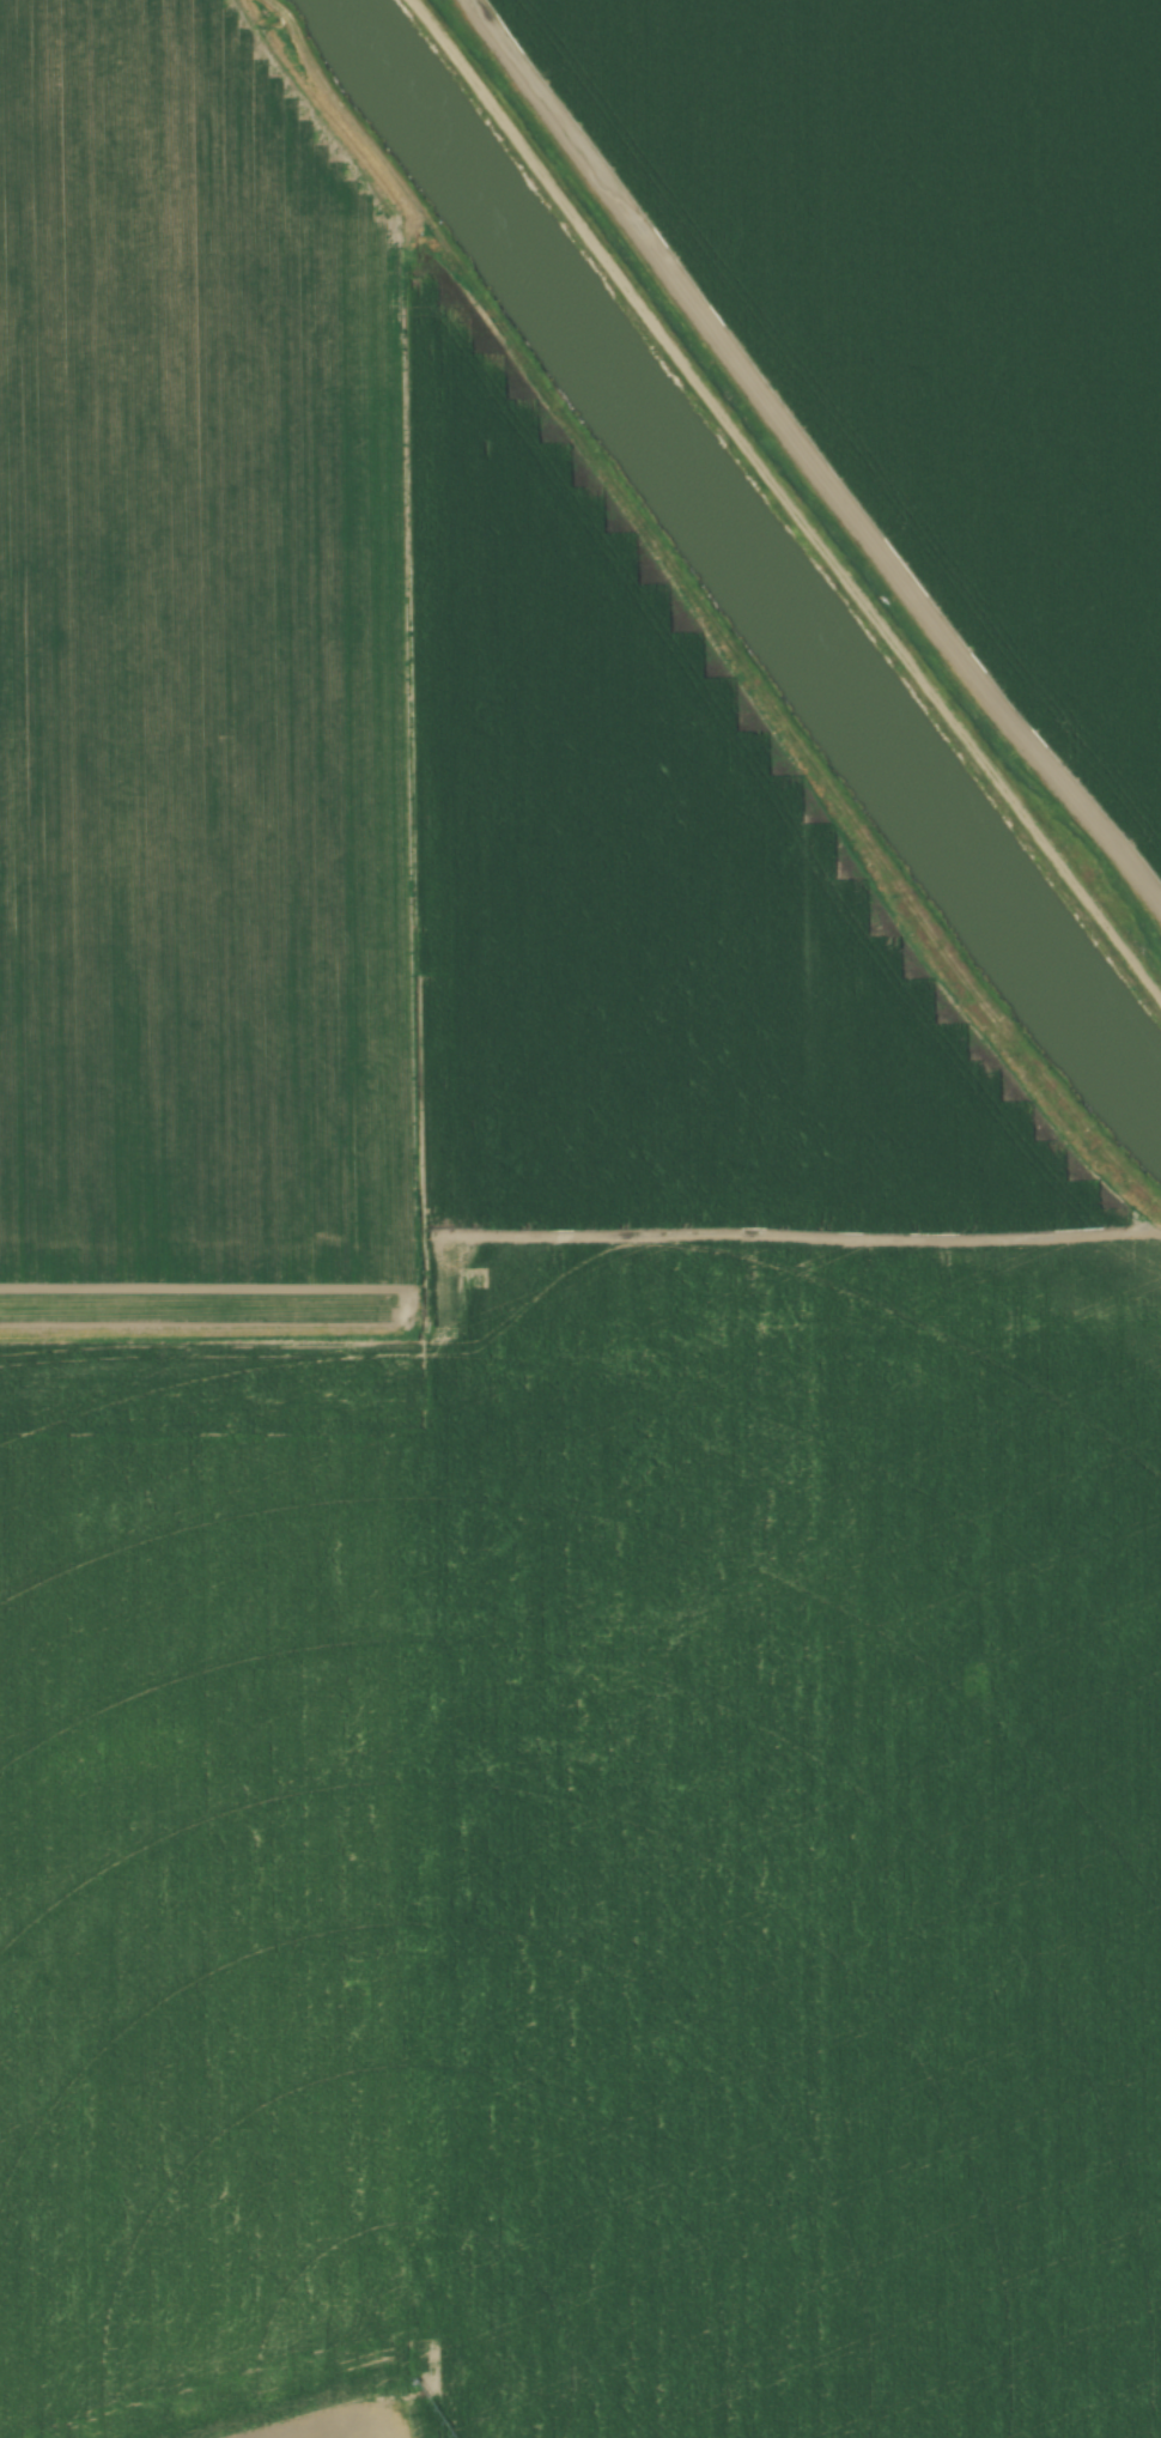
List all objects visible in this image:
crop: (922, 307)
road: (782, 502)
crop: (506, 1443)

